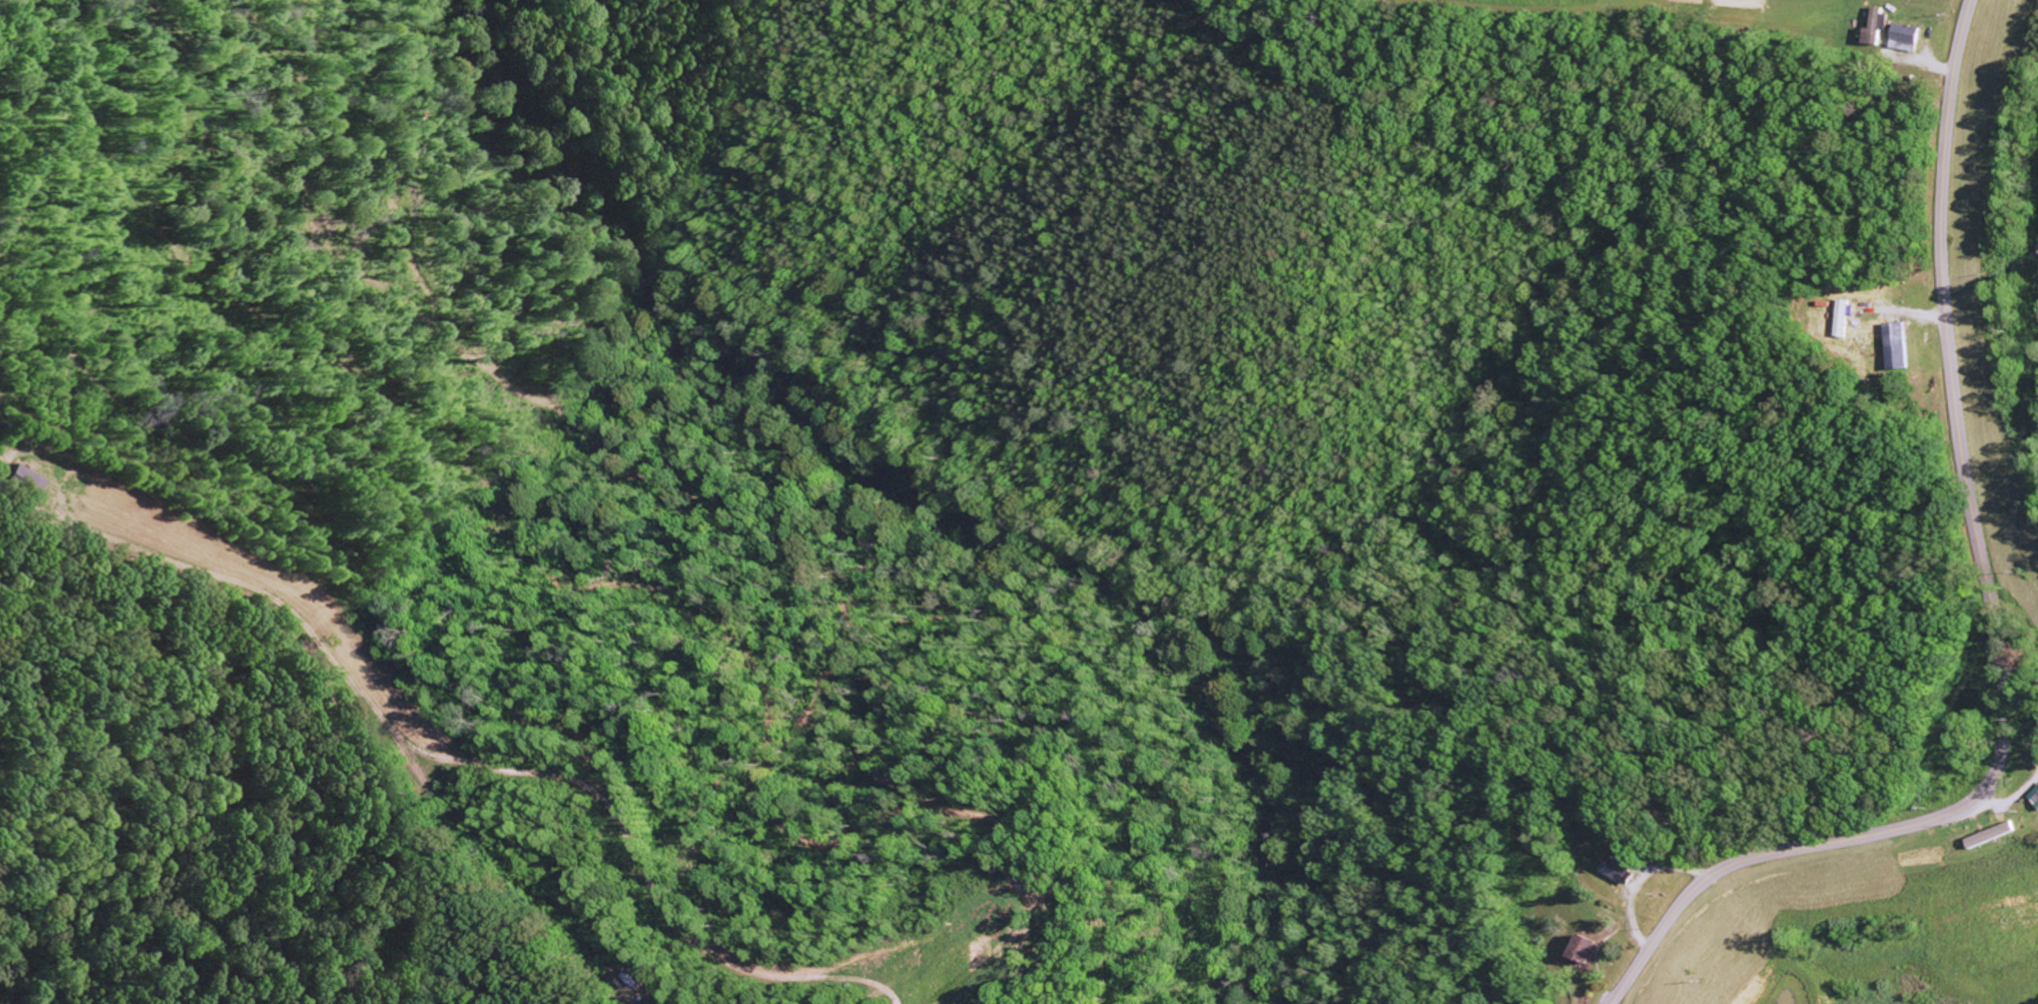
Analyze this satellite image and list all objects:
building: (1874, 28)
building: (1905, 39)
building: (1899, 348)
road: (1995, 621)
building: (1580, 953)

